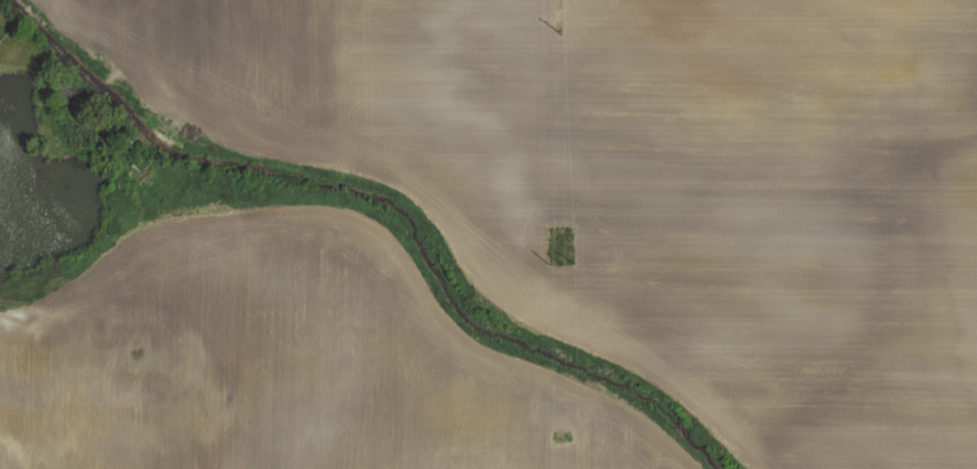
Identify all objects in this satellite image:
building: (0, 43)
building: (38, 360)
building: (127, 360)
building: (128, 418)
building: (24, 420)
building: (39, 467)

